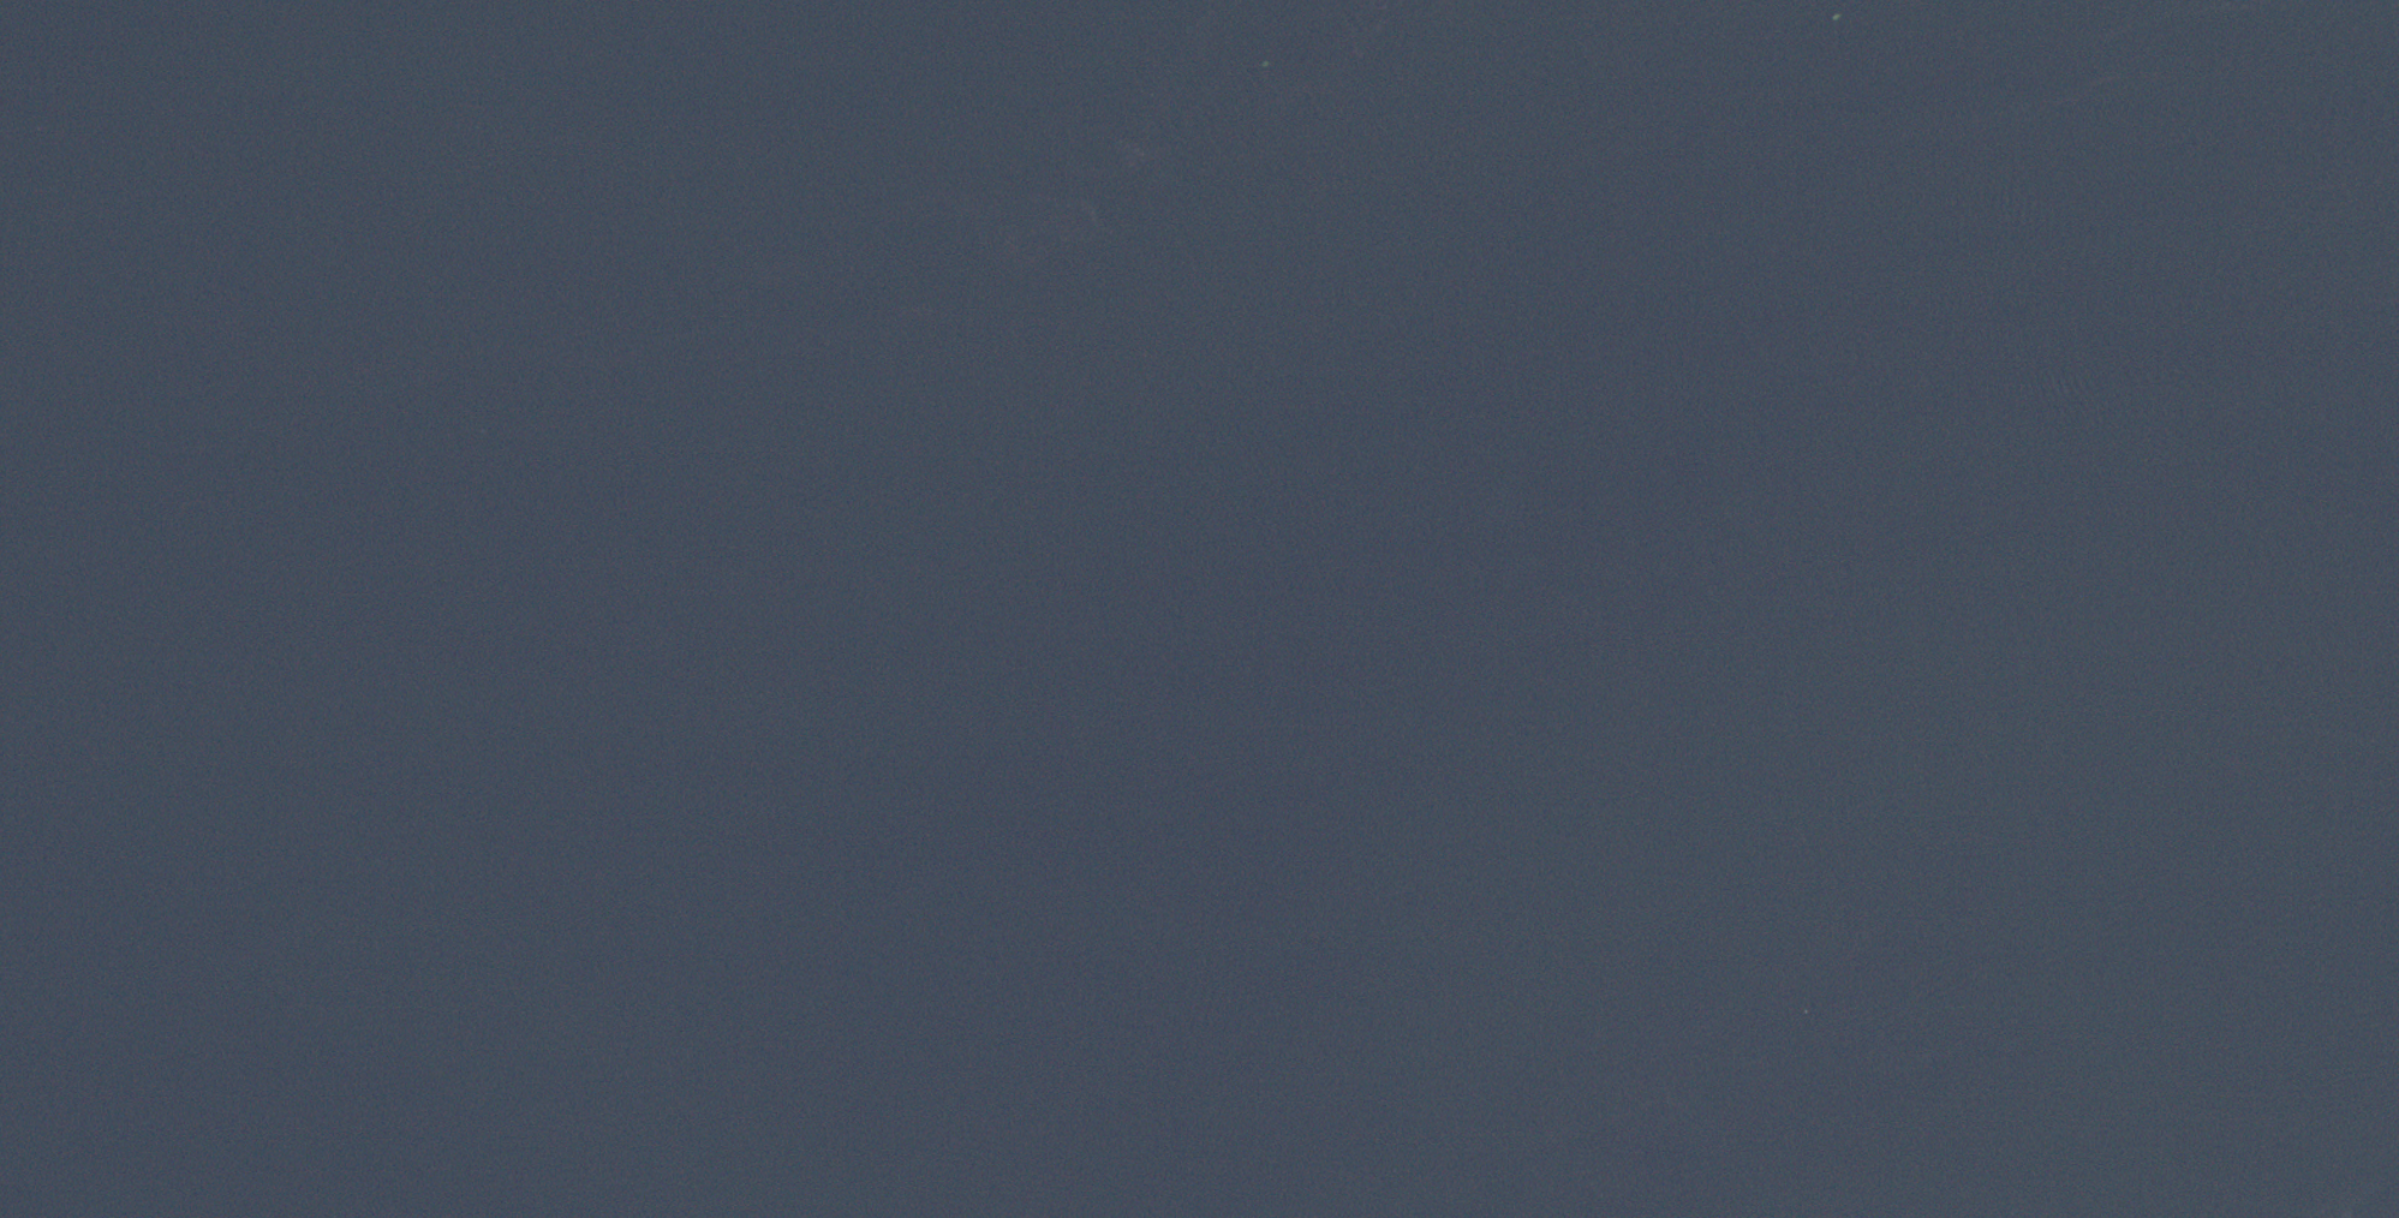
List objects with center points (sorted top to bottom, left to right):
river: (1199, 663)

